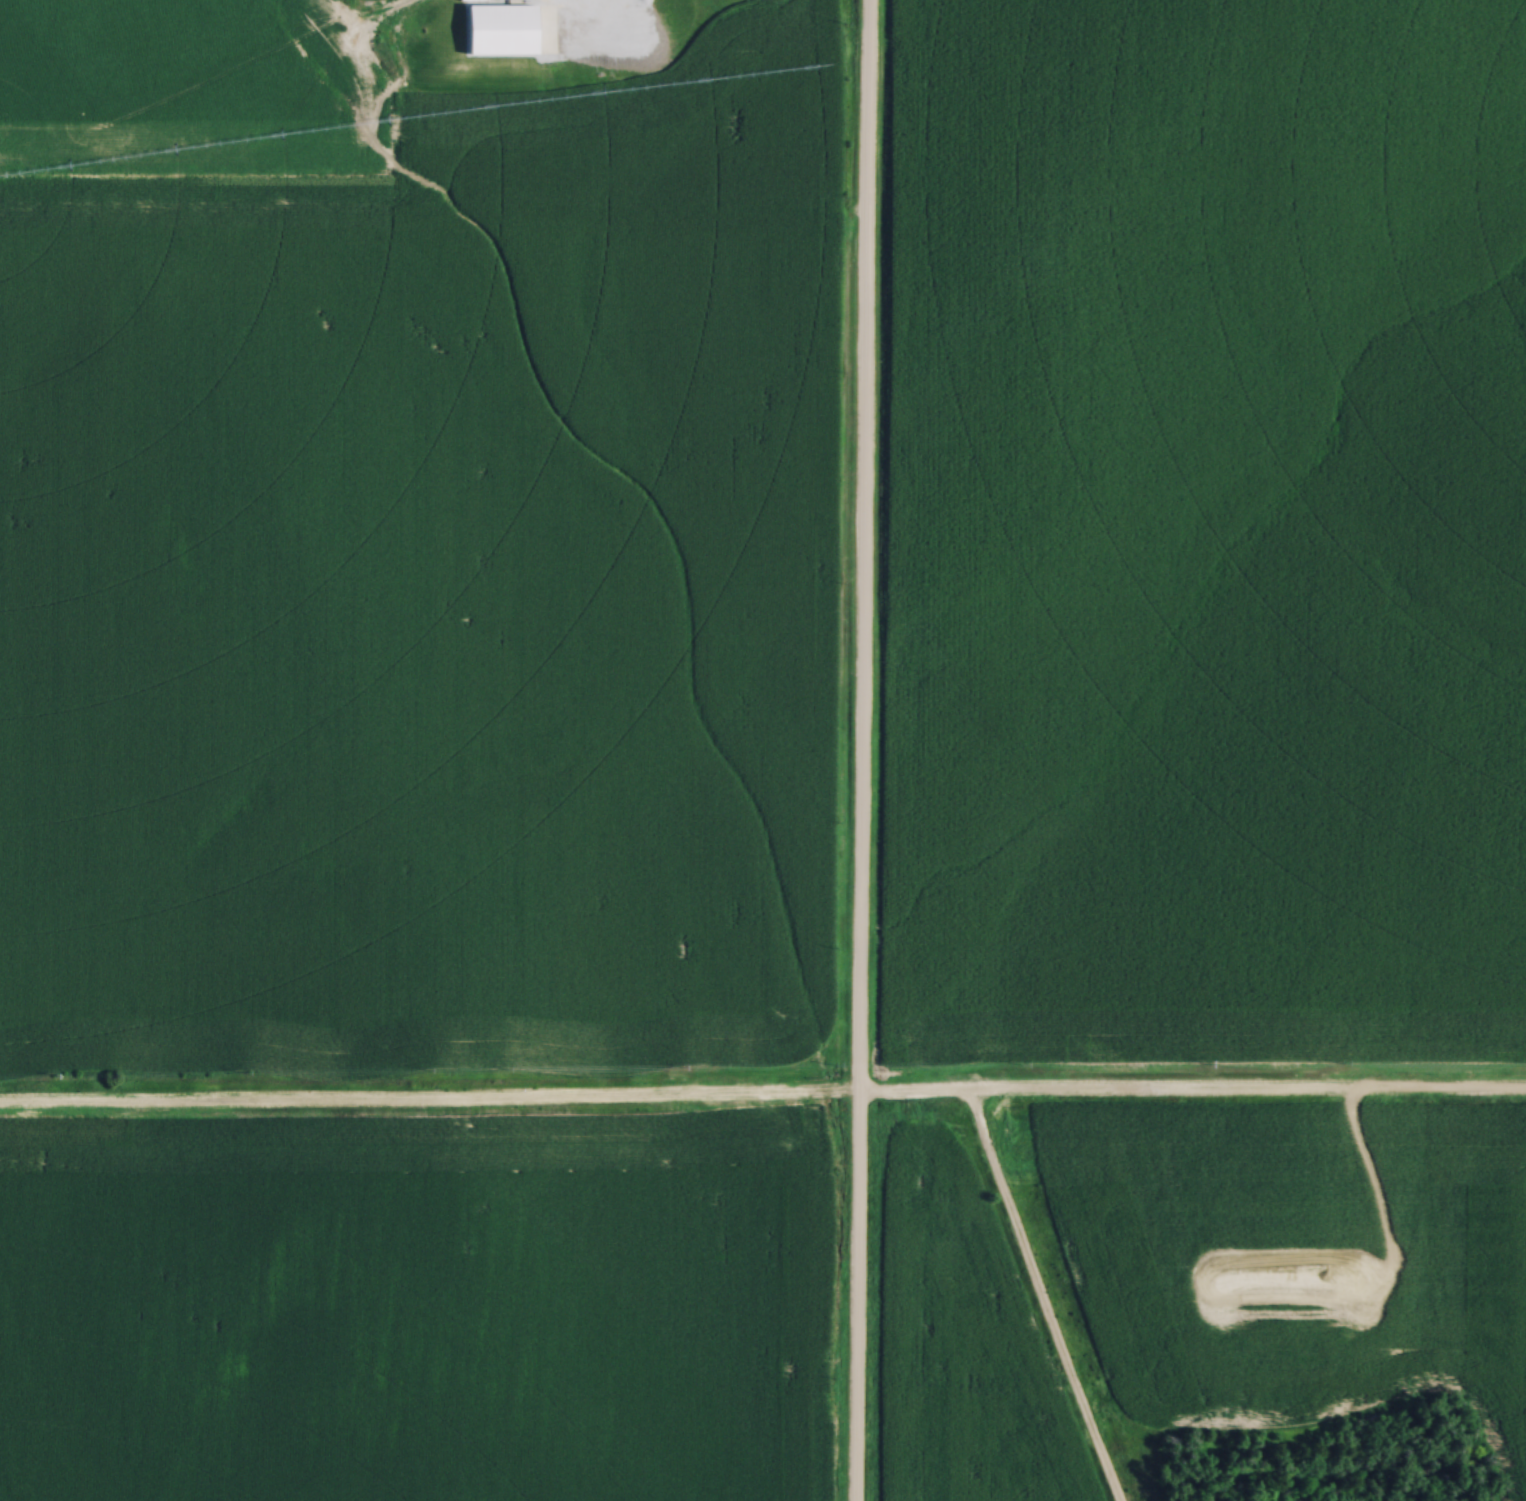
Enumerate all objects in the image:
building: (463, 4)
building: (500, 5)
road: (860, 750)
road: (762, 1091)
road: (1037, 1297)

